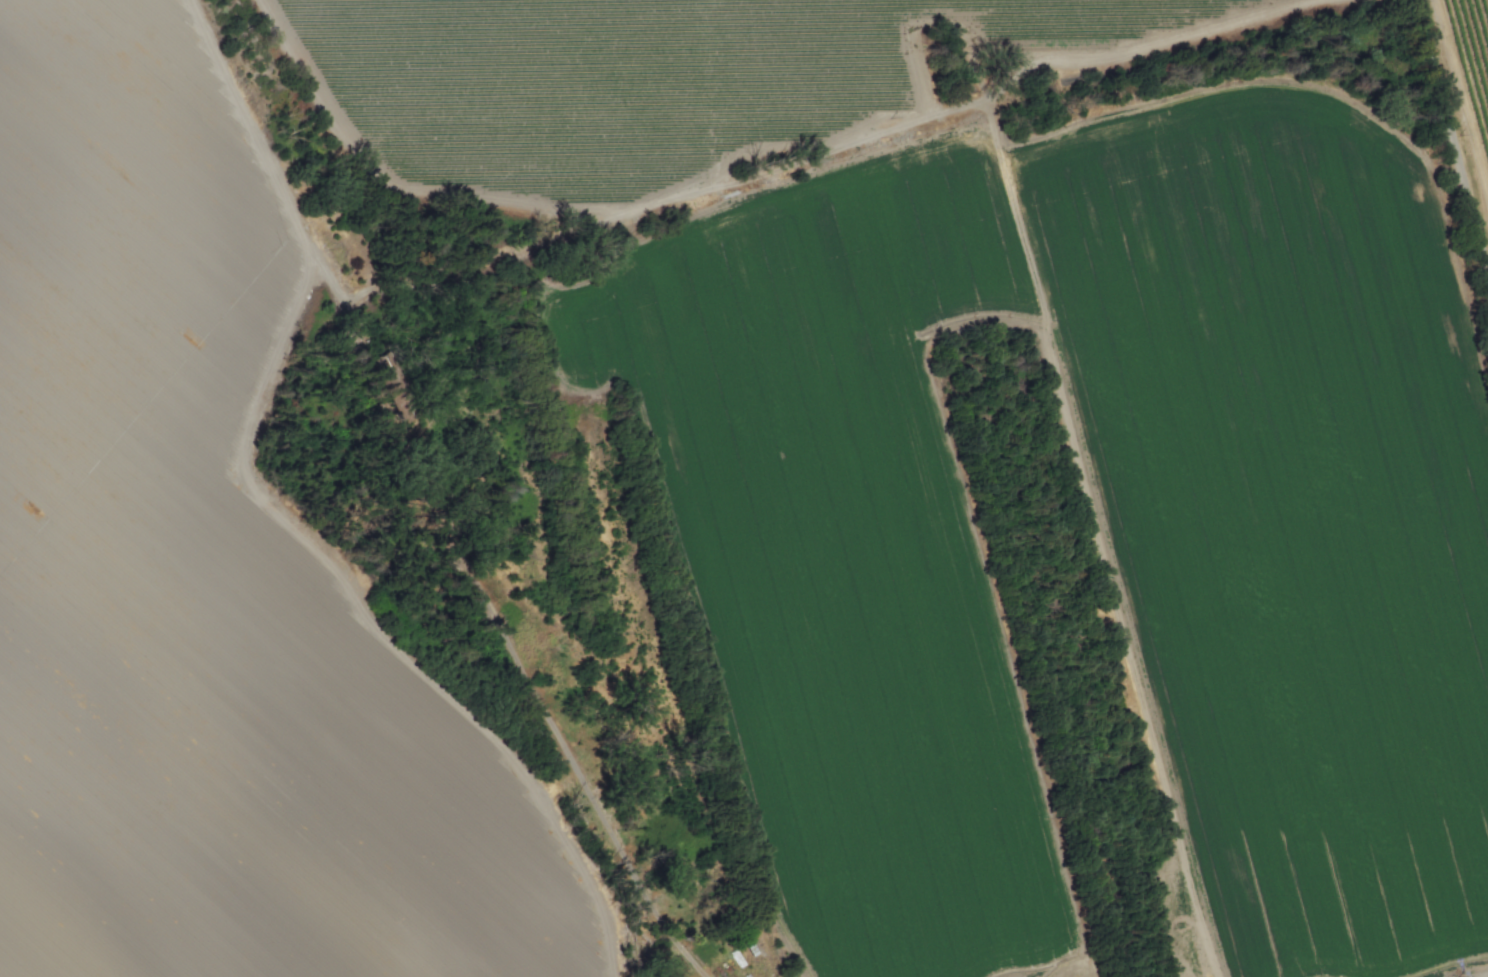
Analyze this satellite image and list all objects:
road: (1452, 130)

